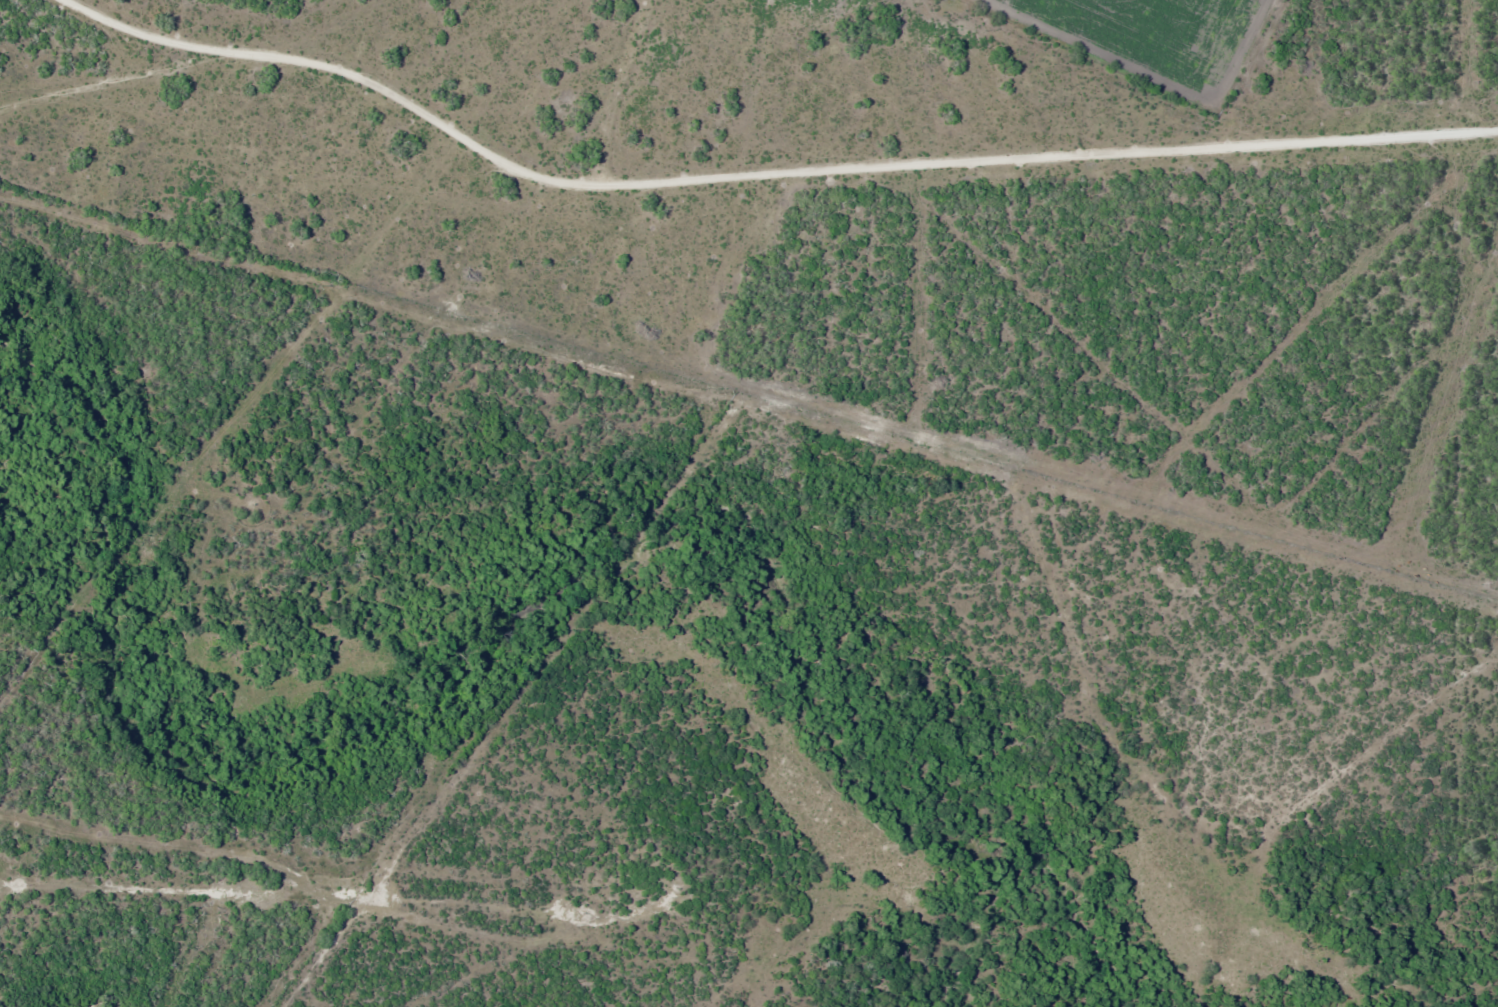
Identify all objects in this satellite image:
road: (391, 44)
road: (108, 80)
road: (623, 88)
road: (756, 190)
road: (376, 236)

